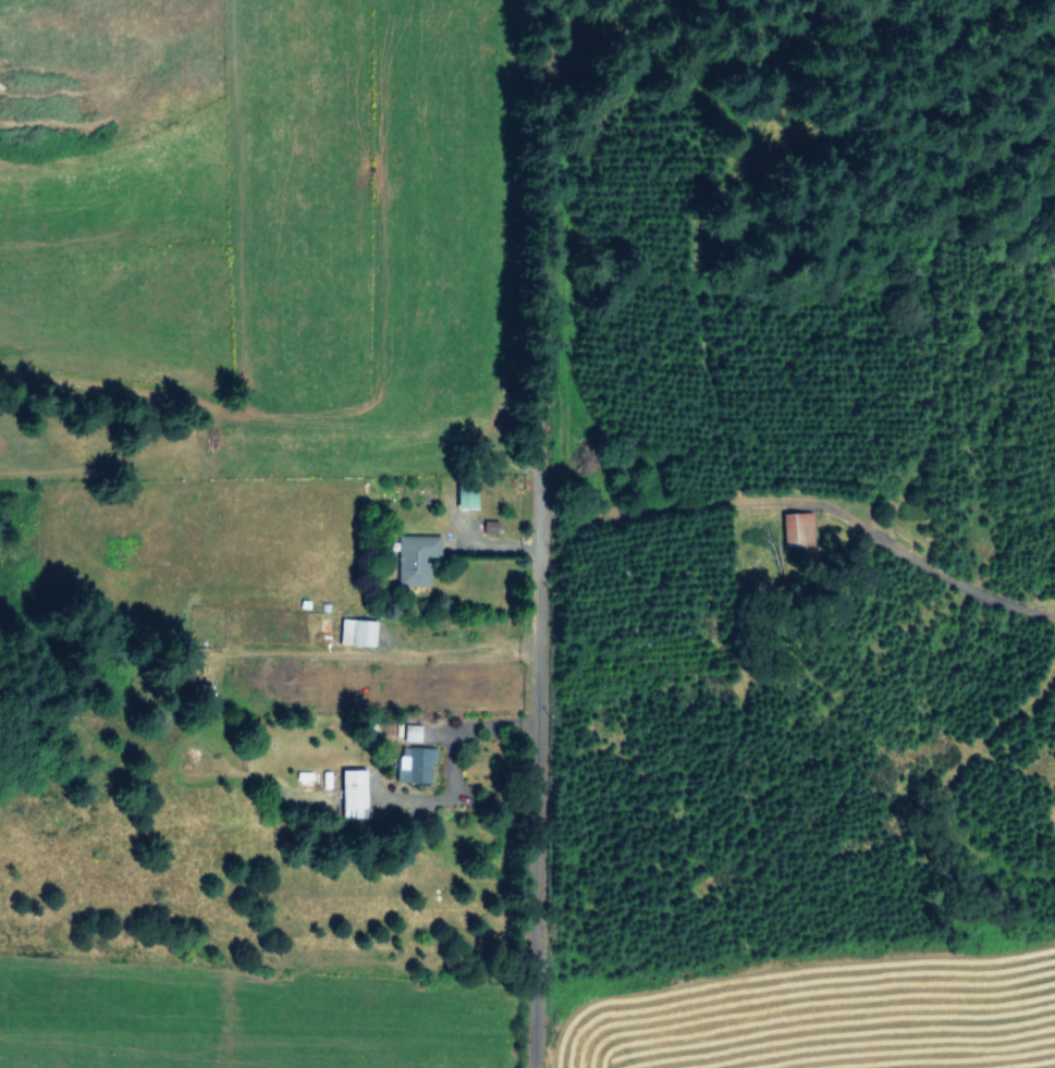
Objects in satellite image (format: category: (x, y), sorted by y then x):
crop: (279, 206)
road: (526, 263)
building: (463, 498)
building: (795, 528)
building: (416, 560)
building: (354, 631)
building: (418, 763)
building: (351, 791)
road: (538, 798)
crop: (539, 1009)

